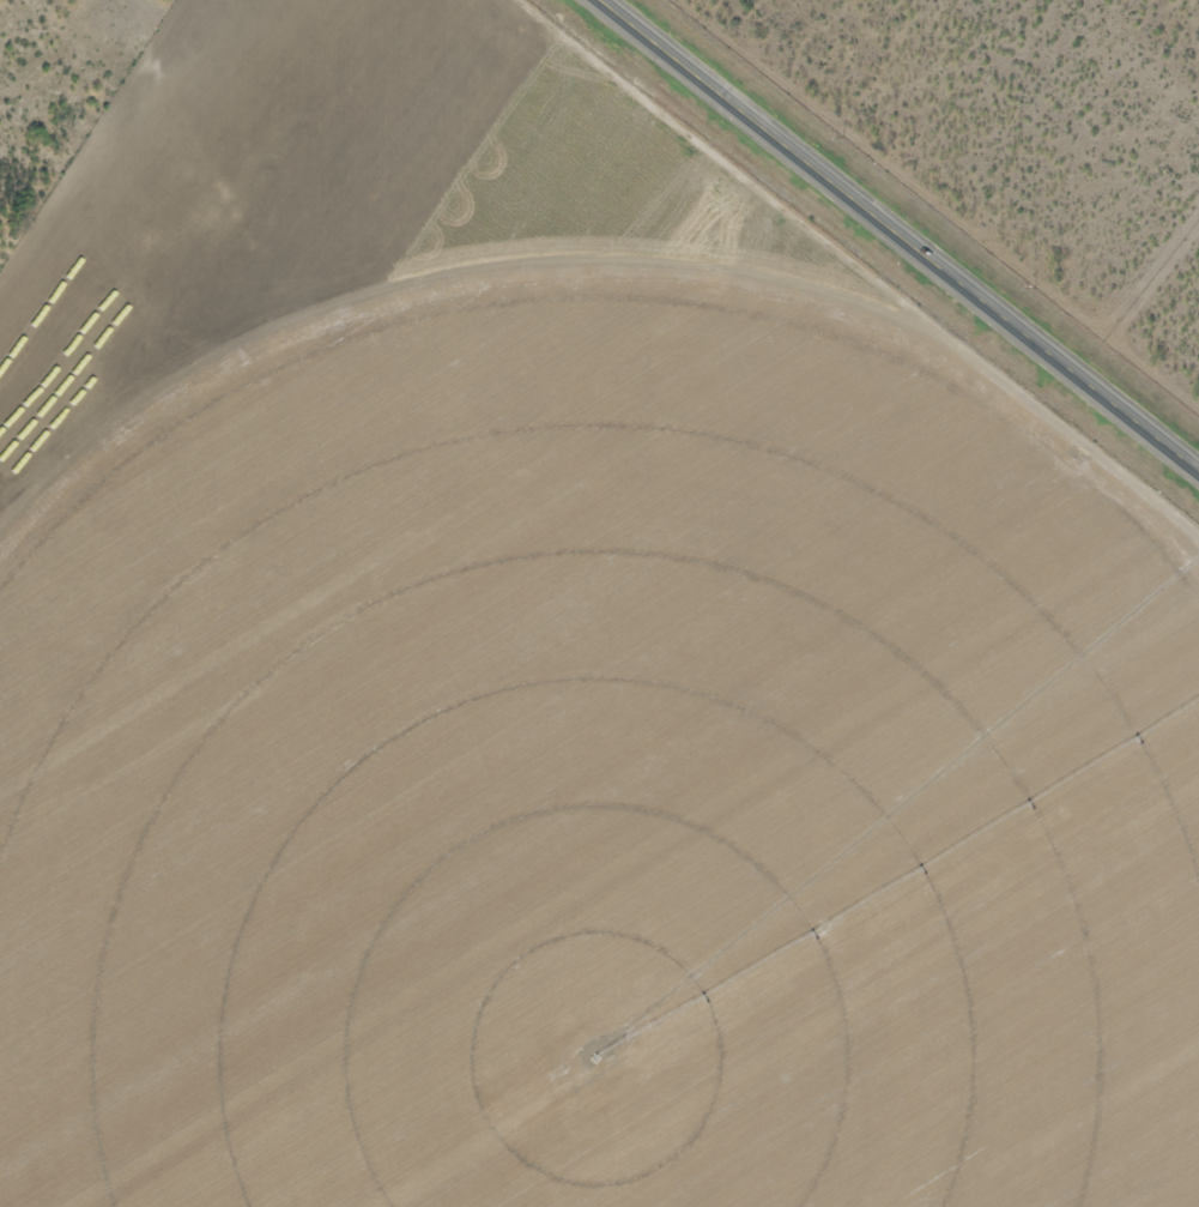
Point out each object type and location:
railway: (931, 210)
road: (898, 235)

